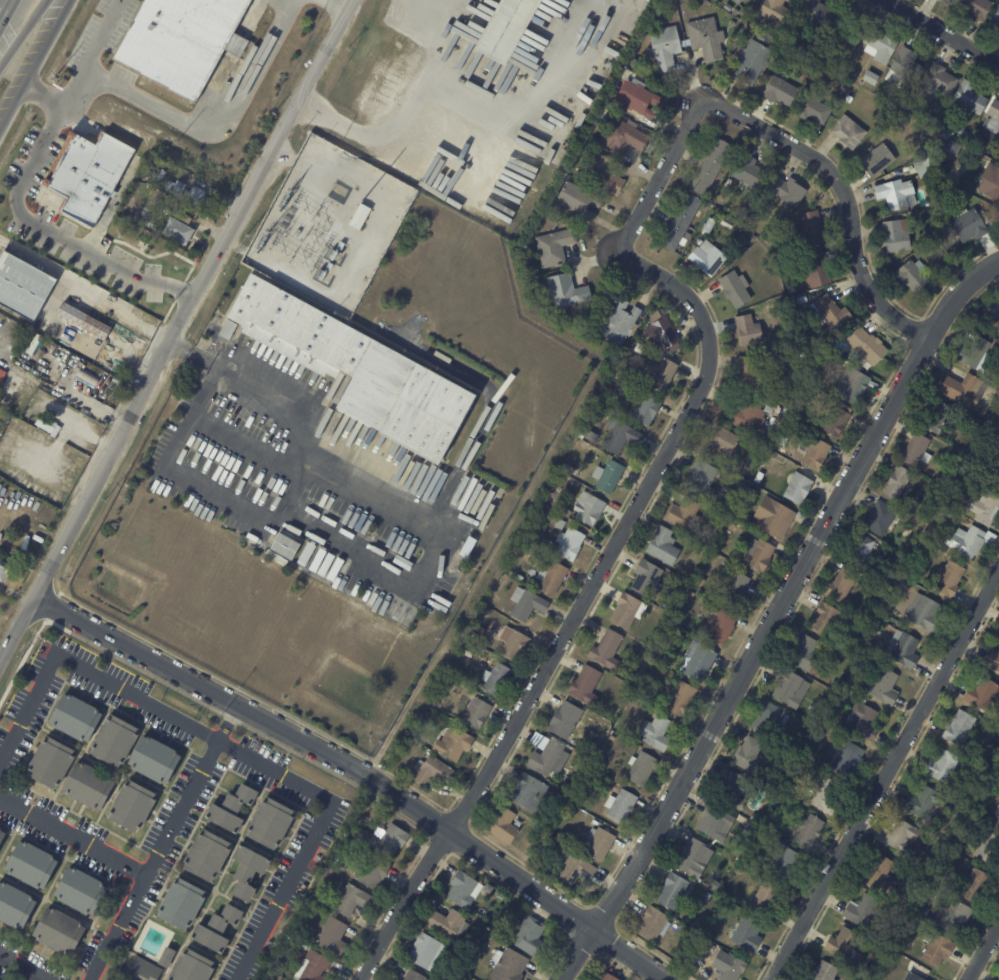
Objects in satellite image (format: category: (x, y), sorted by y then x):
building: (945, 0)
building: (736, 1)
road: (3, 7)
road: (338, 7)
building: (727, 7)
building: (974, 8)
building: (774, 11)
building: (735, 12)
building: (814, 13)
building: (995, 14)
building: (757, 19)
building: (502, 28)
building: (844, 28)
building: (997, 28)
road: (943, 31)
road: (22, 32)
building: (704, 37)
building: (183, 42)
building: (879, 45)
building: (664, 47)
building: (824, 53)
road: (97, 55)
building: (751, 60)
road: (33, 62)
building: (905, 65)
building: (803, 73)
building: (869, 77)
building: (935, 82)
building: (778, 90)
road: (43, 95)
building: (634, 96)
building: (849, 98)
building: (968, 98)
building: (812, 108)
road: (411, 112)
building: (994, 115)
building: (931, 119)
building: (898, 120)
road: (219, 121)
building: (949, 130)
building: (847, 132)
building: (963, 134)
building: (619, 135)
building: (953, 148)
building: (876, 159)
building: (998, 161)
building: (709, 166)
building: (923, 166)
building: (747, 172)
building: (91, 173)
building: (602, 173)
building: (178, 174)
building: (946, 174)
road: (661, 175)
building: (989, 180)
building: (166, 185)
building: (786, 191)
road: (847, 191)
building: (895, 193)
building: (199, 194)
building: (575, 200)
building: (740, 213)
building: (177, 216)
building: (360, 216)
building: (680, 222)
building: (968, 224)
power substation: (329, 225)
building: (709, 226)
building: (810, 227)
road: (57, 228)
building: (174, 230)
building: (895, 235)
building: (744, 240)
building: (553, 246)
building: (706, 259)
building: (817, 268)
building: (946, 268)
building: (911, 274)
building: (23, 287)
building: (734, 288)
building: (566, 291)
building: (800, 299)
building: (994, 310)
building: (831, 311)
building: (81, 320)
building: (785, 320)
building: (617, 322)
building: (589, 325)
building: (225, 329)
building: (747, 330)
building: (661, 332)
building: (806, 338)
road: (180, 340)
building: (866, 345)
building: (976, 355)
building: (775, 358)
building: (361, 368)
building: (747, 372)
building: (661, 375)
building: (87, 376)
road: (47, 384)
building: (851, 386)
building: (961, 389)
building: (115, 391)
building: (805, 399)
building: (643, 408)
building: (771, 410)
road: (116, 414)
building: (744, 416)
building: (937, 418)
building: (835, 421)
building: (789, 424)
building: (588, 436)
building: (618, 436)
building: (723, 440)
building: (915, 451)
building: (815, 455)
building: (995, 475)
building: (606, 476)
building: (758, 477)
building: (701, 479)
building: (895, 482)
building: (796, 488)
building: (725, 490)
building: (56, 497)
building: (962, 498)
building: (587, 509)
building: (985, 509)
building: (566, 513)
building: (680, 514)
building: (951, 515)
building: (772, 517)
building: (550, 518)
building: (881, 519)
building: (558, 524)
building: (730, 527)
building: (708, 540)
building: (969, 541)
building: (286, 543)
building: (567, 543)
building: (661, 546)
building: (468, 547)
building: (861, 554)
building: (756, 555)
building: (893, 556)
building: (890, 564)
building: (4, 571)
building: (550, 578)
building: (645, 578)
building: (948, 579)
building: (700, 581)
road: (418, 583)
building: (840, 583)
building: (735, 589)
building: (691, 592)
building: (526, 606)
road: (578, 608)
building: (624, 610)
building: (922, 613)
road: (774, 614)
building: (826, 622)
building: (719, 627)
building: (876, 632)
building: (474, 636)
building: (512, 643)
building: (605, 649)
building: (902, 649)
building: (802, 653)
building: (991, 661)
building: (697, 662)
road: (81, 668)
building: (457, 673)
building: (494, 680)
building: (584, 685)
building: (789, 688)
building: (881, 689)
building: (982, 694)
building: (680, 700)
building: (475, 713)
building: (811, 714)
building: (78, 717)
building: (563, 720)
building: (769, 720)
building: (863, 722)
building: (959, 729)
building: (653, 733)
building: (611, 737)
building: (116, 741)
building: (451, 744)
building: (594, 752)
building: (746, 756)
building: (156, 759)
building: (547, 759)
building: (846, 762)
building: (53, 764)
building: (941, 767)
building: (640, 769)
building: (428, 772)
road: (365, 775)
road: (885, 776)
building: (91, 785)
building: (735, 791)
building: (527, 792)
building: (583, 795)
building: (819, 798)
building: (922, 803)
building: (137, 805)
building: (619, 805)
building: (236, 809)
building: (572, 811)
building: (996, 819)
building: (713, 822)
building: (274, 823)
building: (517, 824)
building: (501, 826)
building: (806, 831)
road: (318, 833)
building: (366, 834)
building: (2, 835)
building: (900, 836)
road: (73, 837)
building: (744, 839)
building: (391, 840)
building: (937, 843)
building: (598, 844)
building: (989, 849)
building: (211, 855)
building: (690, 858)
road: (154, 861)
building: (34, 864)
building: (783, 866)
building: (251, 870)
building: (573, 870)
building: (377, 872)
building: (877, 874)
building: (973, 887)
building: (717, 888)
building: (465, 889)
building: (84, 890)
building: (672, 891)
building: (762, 899)
building: (354, 900)
building: (702, 903)
building: (185, 904)
building: (16, 905)
building: (862, 912)
building: (920, 912)
building: (955, 918)
building: (451, 922)
building: (651, 925)
building: (500, 927)
building: (62, 929)
building: (221, 929)
building: (334, 935)
building: (534, 935)
building: (746, 936)
building: (881, 938)
building: (294, 939)
building: (703, 944)
building: (841, 946)
building: (899, 946)
building: (427, 950)
building: (936, 951)
road: (982, 951)
building: (868, 953)
building: (171, 957)
building: (512, 965)
building: (316, 966)
road: (22, 967)
building: (195, 967)
building: (727, 967)
building: (145, 969)
building: (823, 972)
building: (414, 975)
building: (606, 977)
building: (911, 977)
building: (396, 979)

